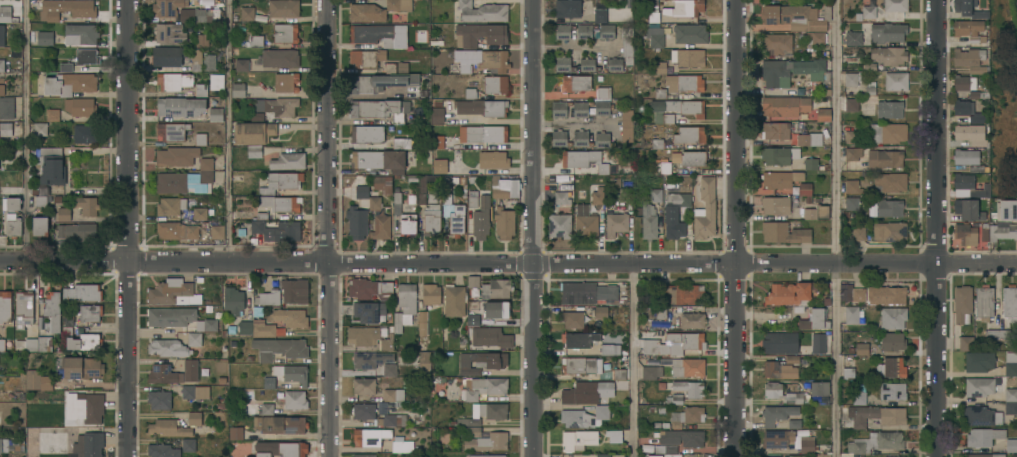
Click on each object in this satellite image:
building: (794, 2)
building: (398, 5)
building: (896, 6)
building: (167, 7)
building: (283, 8)
building: (567, 8)
building: (684, 8)
building: (67, 9)
building: (969, 9)
building: (868, 10)
building: (367, 11)
building: (483, 11)
building: (653, 12)
building: (247, 13)
building: (600, 13)
building: (8, 14)
building: (206, 15)
building: (797, 17)
building: (970, 30)
building: (562, 31)
building: (584, 31)
building: (606, 31)
building: (170, 32)
building: (285, 32)
building: (887, 33)
building: (80, 34)
building: (372, 34)
building: (480, 34)
building: (690, 34)
building: (4, 36)
building: (45, 38)
building: (816, 38)
building: (851, 38)
building: (202, 40)
building: (656, 40)
building: (255, 41)
building: (626, 41)
building: (778, 44)
building: (889, 55)
building: (87, 56)
building: (166, 56)
building: (277, 57)
building: (367, 57)
building: (968, 57)
building: (689, 58)
building: (196, 59)
building: (482, 60)
building: (209, 62)
building: (562, 63)
building: (614, 63)
building: (586, 64)
building: (2, 65)
building: (242, 65)
building: (65, 66)
building: (660, 68)
building: (979, 70)
building: (792, 71)
building: (384, 79)
building: (853, 80)
building: (176, 81)
building: (216, 81)
building: (286, 82)
building: (576, 82)
building: (896, 82)
building: (685, 83)
building: (964, 83)
building: (69, 84)
building: (496, 84)
building: (2, 89)
building: (201, 89)
building: (238, 90)
building: (470, 93)
building: (978, 95)
building: (603, 101)
building: (279, 105)
building: (851, 105)
building: (80, 106)
building: (180, 106)
building: (482, 106)
building: (784, 106)
building: (7, 107)
building: (962, 107)
building: (559, 108)
building: (580, 108)
building: (379, 109)
building: (675, 110)
building: (889, 110)
building: (52, 115)
building: (217, 115)
building: (437, 115)
building: (823, 115)
building: (979, 120)
road: (569, 123)
building: (626, 125)
building: (40, 128)
building: (6, 129)
road: (24, 131)
building: (172, 131)
road: (227, 131)
building: (776, 131)
building: (84, 133)
building: (254, 133)
building: (367, 133)
building: (482, 133)
building: (888, 133)
building: (971, 134)
building: (689, 135)
building: (558, 137)
building: (851, 137)
building: (580, 138)
building: (200, 139)
building: (602, 139)
building: (809, 140)
building: (437, 141)
building: (404, 143)
building: (656, 143)
building: (853, 154)
building: (177, 156)
building: (779, 156)
building: (966, 157)
building: (693, 158)
building: (380, 159)
building: (496, 159)
building: (884, 159)
building: (584, 160)
building: (286, 161)
building: (810, 164)
building: (50, 166)
building: (440, 167)
building: (665, 168)
building: (978, 168)
building: (206, 169)
building: (780, 179)
building: (178, 182)
building: (281, 182)
building: (439, 182)
building: (890, 182)
building: (382, 183)
building: (852, 186)
building: (504, 187)
building: (969, 187)
building: (805, 189)
building: (421, 190)
building: (361, 191)
building: (626, 194)
building: (655, 195)
building: (597, 197)
building: (472, 198)
building: (561, 198)
building: (678, 199)
building: (40, 201)
building: (11, 203)
building: (280, 203)
building: (851, 203)
building: (86, 205)
building: (778, 205)
building: (170, 206)
building: (889, 208)
building: (705, 210)
building: (968, 210)
building: (1008, 210)
building: (200, 213)
building: (816, 213)
building: (63, 214)
building: (453, 214)
building: (481, 218)
building: (379, 219)
building: (432, 219)
building: (356, 222)
building: (504, 222)
building: (648, 222)
building: (616, 223)
building: (405, 224)
building: (13, 225)
building: (559, 225)
building: (39, 226)
building: (586, 226)
road: (127, 228)
road: (328, 228)
road: (531, 228)
road: (733, 228)
road: (834, 228)
road: (934, 228)
building: (275, 229)
building: (176, 230)
building: (674, 230)
building: (76, 231)
building: (217, 231)
building: (888, 232)
building: (984, 232)
building: (1002, 232)
building: (783, 233)
building: (858, 233)
building: (965, 234)
road: (508, 262)
building: (473, 281)
building: (370, 288)
building: (496, 288)
building: (295, 291)
building: (82, 292)
building: (173, 292)
building: (578, 292)
building: (611, 293)
building: (790, 293)
building: (430, 294)
building: (683, 294)
building: (858, 295)
building: (887, 295)
building: (271, 298)
building: (233, 300)
building: (455, 300)
building: (984, 301)
building: (1010, 301)
building: (963, 304)
building: (5, 306)
building: (404, 306)
building: (23, 310)
building: (496, 310)
building: (370, 311)
building: (601, 311)
building: (52, 312)
building: (89, 312)
building: (851, 315)
building: (170, 316)
building: (290, 317)
building: (472, 317)
building: (657, 318)
building: (893, 318)
building: (572, 319)
building: (814, 319)
building: (692, 320)
building: (422, 322)
building: (211, 326)
building: (259, 328)
building: (365, 334)
building: (998, 335)
building: (79, 336)
building: (491, 336)
building: (194, 338)
building: (578, 339)
building: (892, 342)
building: (45, 343)
building: (779, 343)
building: (1, 344)
building: (27, 344)
building: (386, 344)
building: (674, 344)
building: (818, 344)
building: (966, 344)
building: (168, 347)
building: (279, 348)
building: (610, 349)
building: (861, 349)
building: (370, 359)
road: (631, 360)
building: (792, 360)
building: (487, 361)
building: (424, 362)
building: (978, 362)
building: (581, 365)
building: (1010, 365)
building: (81, 367)
building: (687, 368)
building: (891, 368)
building: (389, 370)
building: (779, 371)
building: (174, 372)
building: (292, 373)
building: (650, 373)
building: (848, 373)
building: (619, 374)
building: (33, 379)
building: (267, 382)
building: (364, 385)
building: (483, 387)
building: (979, 387)
building: (685, 388)
building: (819, 388)
building: (195, 391)
building: (587, 391)
building: (892, 391)
building: (393, 394)
building: (678, 394)
building: (781, 395)
building: (859, 395)
building: (1010, 395)
building: (159, 399)
building: (295, 399)
building: (674, 399)
building: (90, 407)
building: (256, 408)
building: (1010, 408)
building: (363, 410)
building: (484, 413)
building: (777, 414)
building: (388, 416)
building: (584, 416)
building: (687, 416)
building: (874, 416)
building: (981, 416)
building: (194, 418)
building: (280, 424)
building: (795, 424)
building: (168, 428)
building: (235, 432)
building: (614, 435)
building: (370, 436)
building: (983, 437)
building: (680, 438)
building: (485, 439)
building: (578, 439)
building: (778, 439)
building: (876, 442)
building: (88, 444)
building: (188, 444)
building: (401, 444)
building: (7, 445)
building: (807, 445)
building: (1011, 445)
building: (281, 448)
building: (164, 450)
building: (665, 450)
building: (364, 455)
building: (487, 455)
building: (602, 455)
building: (663, 455)
building: (985, 455)
building: (773, 456)
building: (893, 456)

